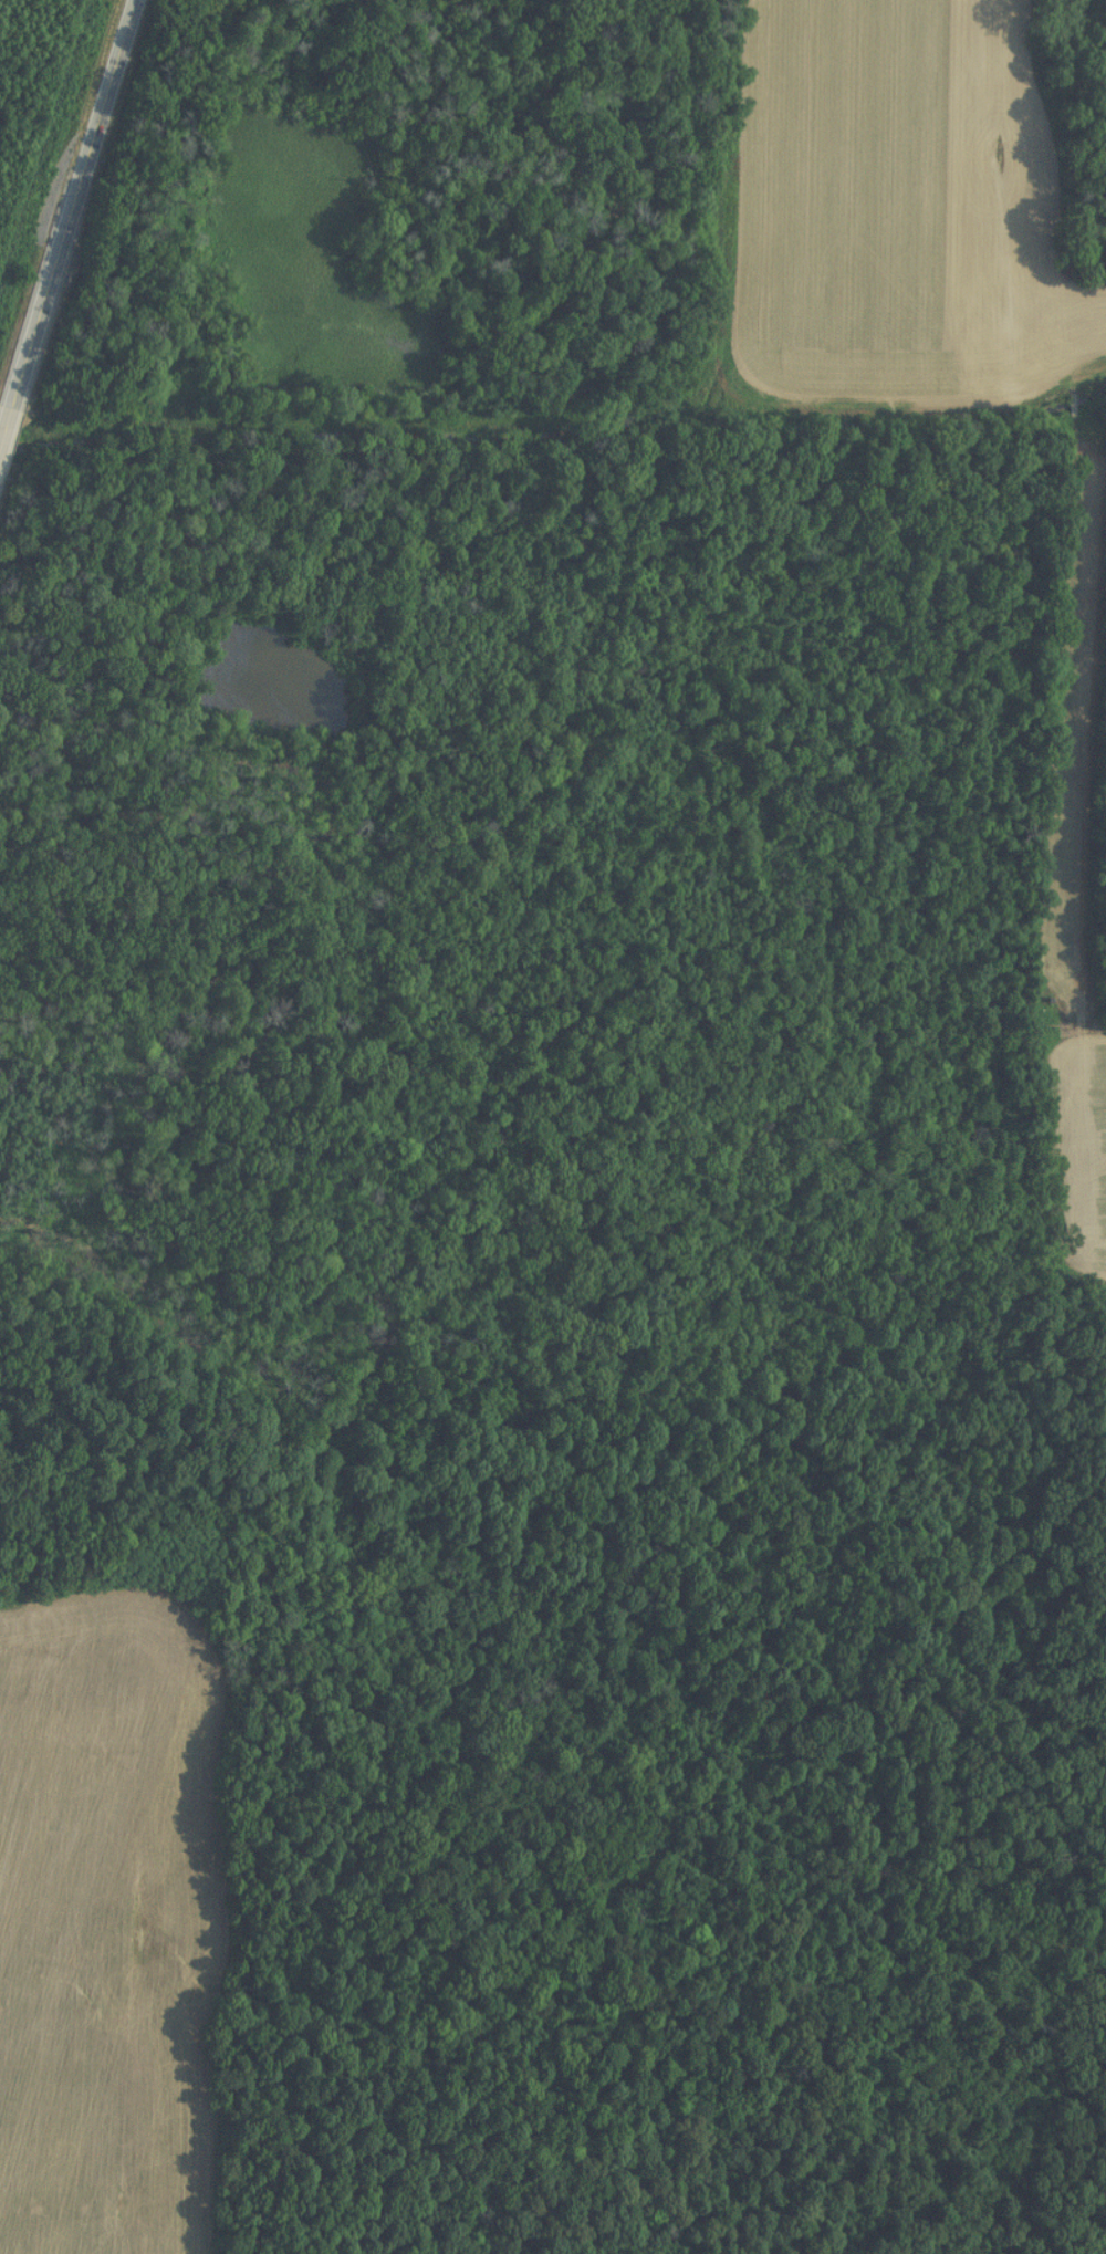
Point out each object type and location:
road: (64, 217)

